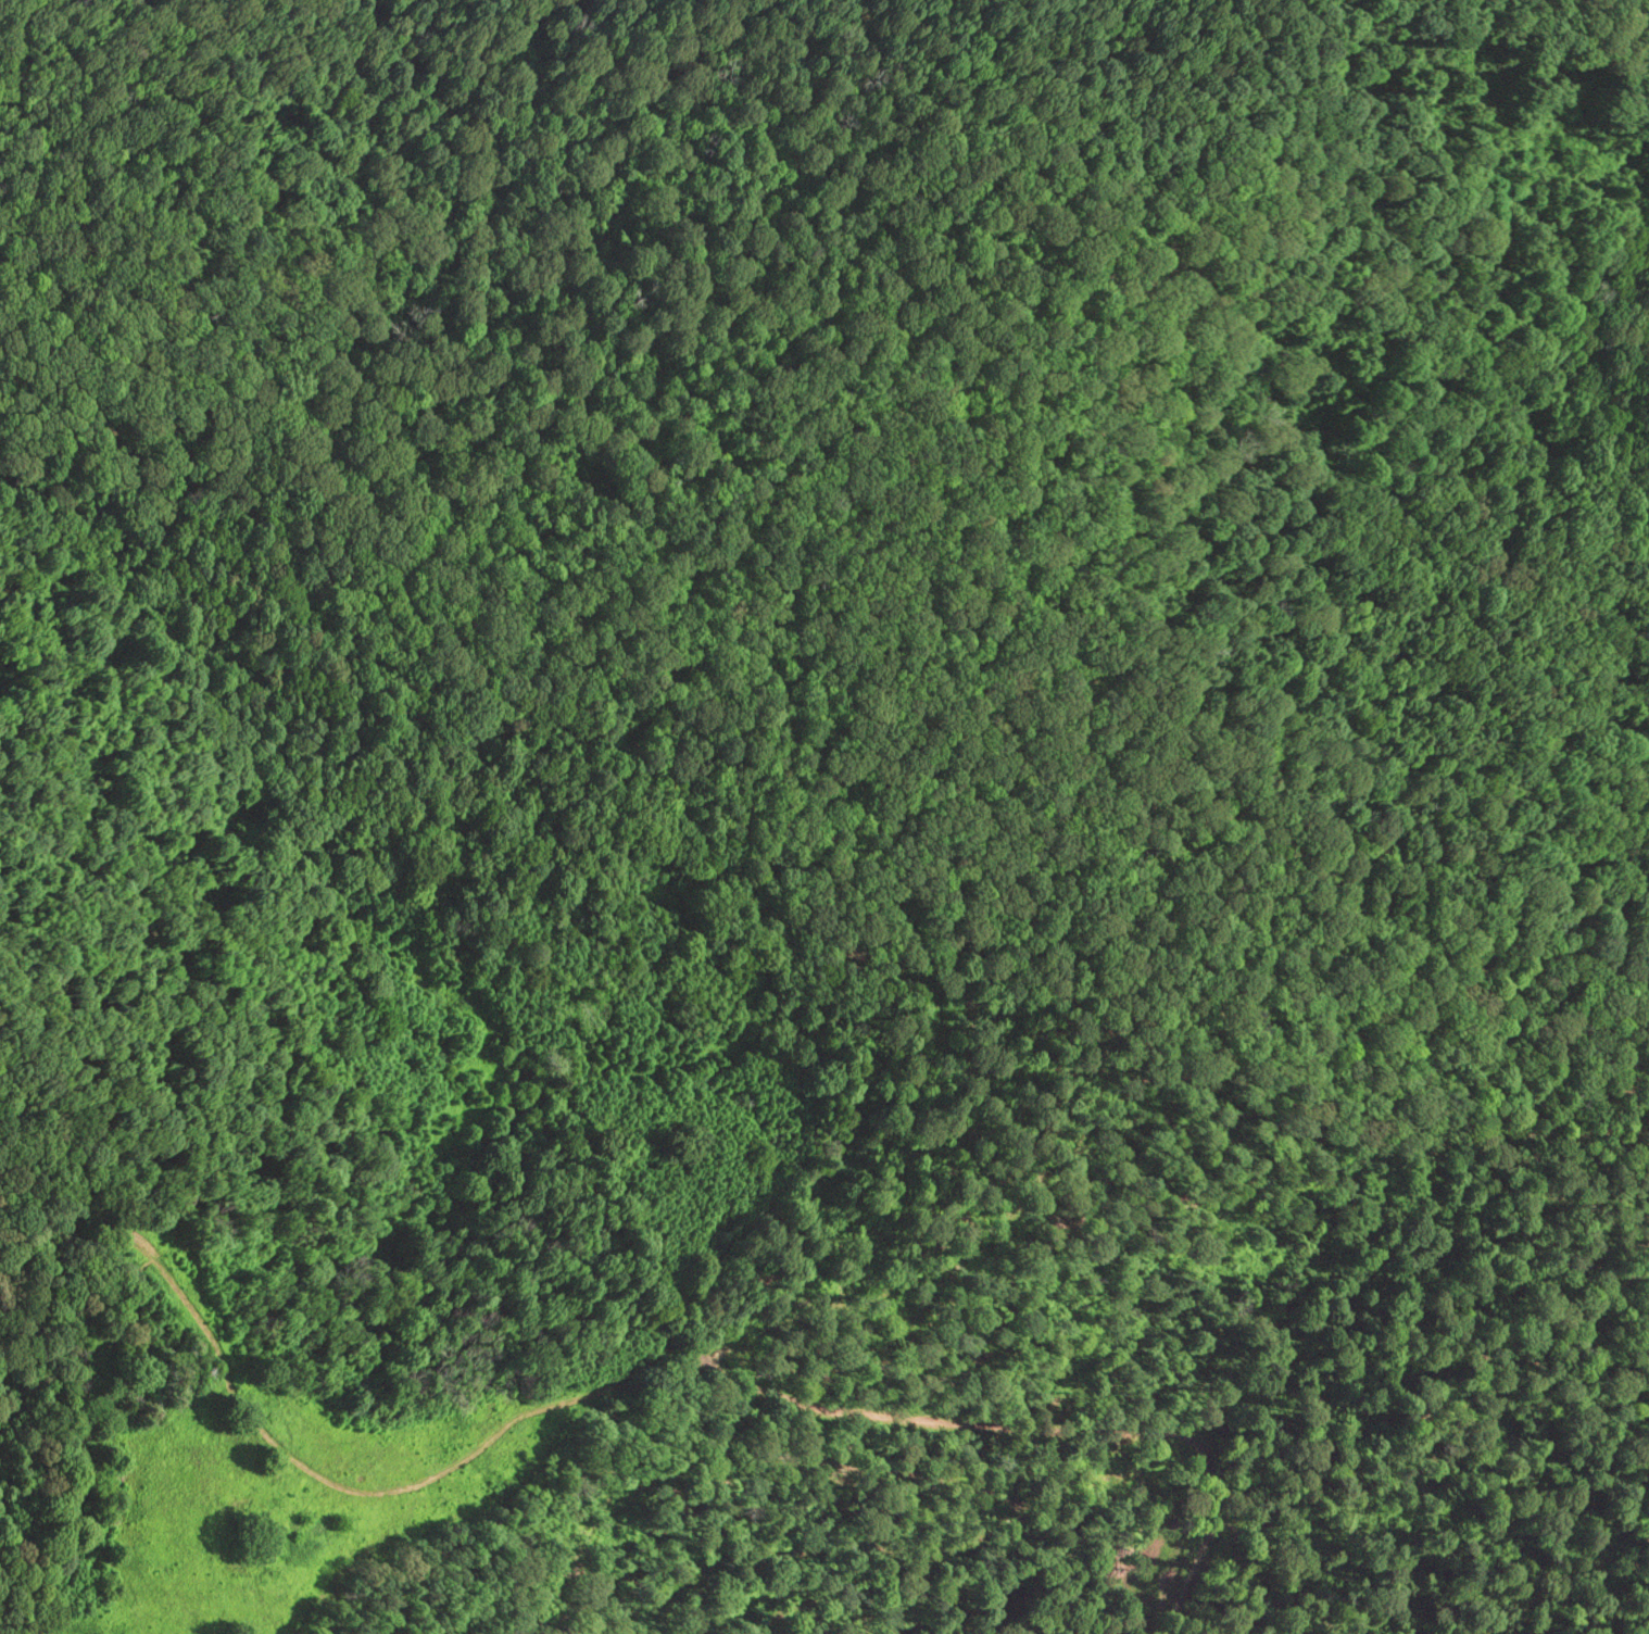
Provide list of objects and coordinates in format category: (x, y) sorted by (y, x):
road: (1004, 1428)

